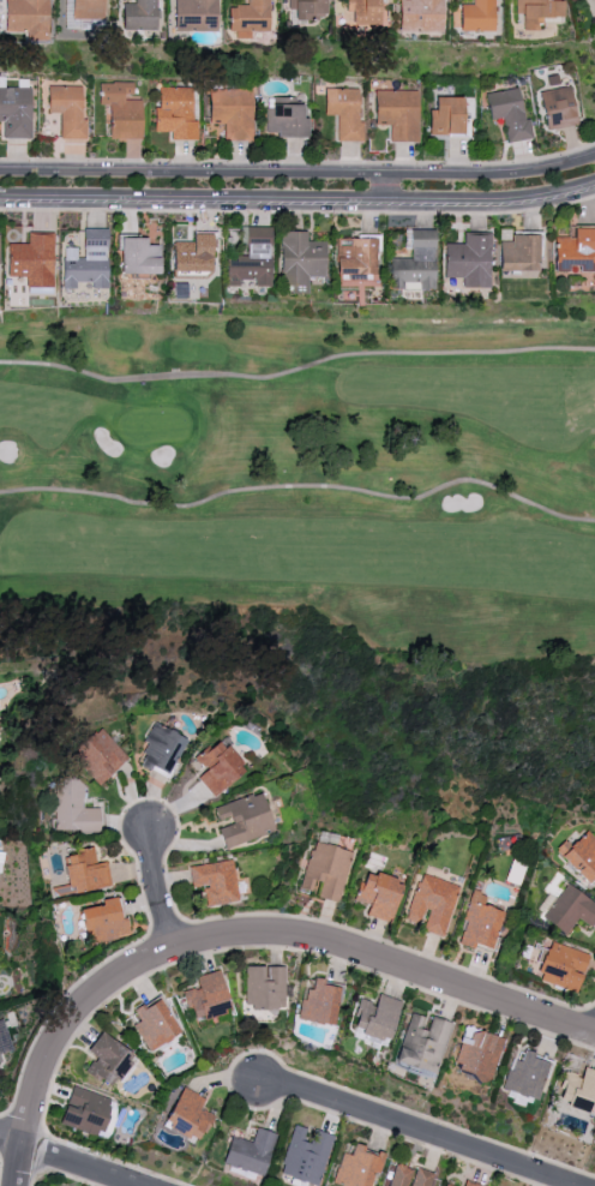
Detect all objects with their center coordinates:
building: (88, 8)
building: (305, 8)
building: (198, 10)
building: (536, 11)
building: (365, 13)
building: (138, 14)
building: (420, 14)
building: (477, 16)
building: (28, 18)
building: (248, 18)
building: (594, 30)
building: (558, 108)
building: (68, 110)
building: (121, 110)
building: (232, 112)
building: (175, 113)
building: (344, 113)
building: (398, 113)
building: (510, 113)
building: (447, 118)
building: (286, 120)
road: (299, 173)
road: (297, 202)
building: (575, 251)
building: (519, 253)
building: (193, 254)
building: (139, 256)
building: (356, 257)
building: (0, 258)
building: (32, 259)
building: (252, 259)
building: (86, 260)
building: (301, 260)
building: (469, 260)
building: (416, 263)
road: (295, 367)
road: (301, 487)
building: (161, 749)
building: (98, 756)
building: (217, 767)
building: (72, 808)
building: (244, 820)
building: (1, 856)
building: (579, 856)
building: (325, 870)
building: (85, 871)
building: (215, 882)
road: (162, 888)
building: (378, 894)
building: (432, 904)
building: (570, 910)
building: (103, 921)
building: (479, 923)
road: (240, 933)
building: (561, 966)
building: (264, 987)
building: (208, 996)
building: (318, 1004)
building: (375, 1017)
building: (155, 1024)
building: (4, 1040)
building: (422, 1047)
building: (477, 1053)
building: (108, 1060)
building: (525, 1074)
building: (577, 1089)
building: (187, 1116)
road: (421, 1133)
road: (10, 1142)
building: (247, 1154)
building: (303, 1155)
road: (80, 1166)
building: (356, 1167)
building: (409, 1176)
building: (470, 1184)
building: (447, 1185)

